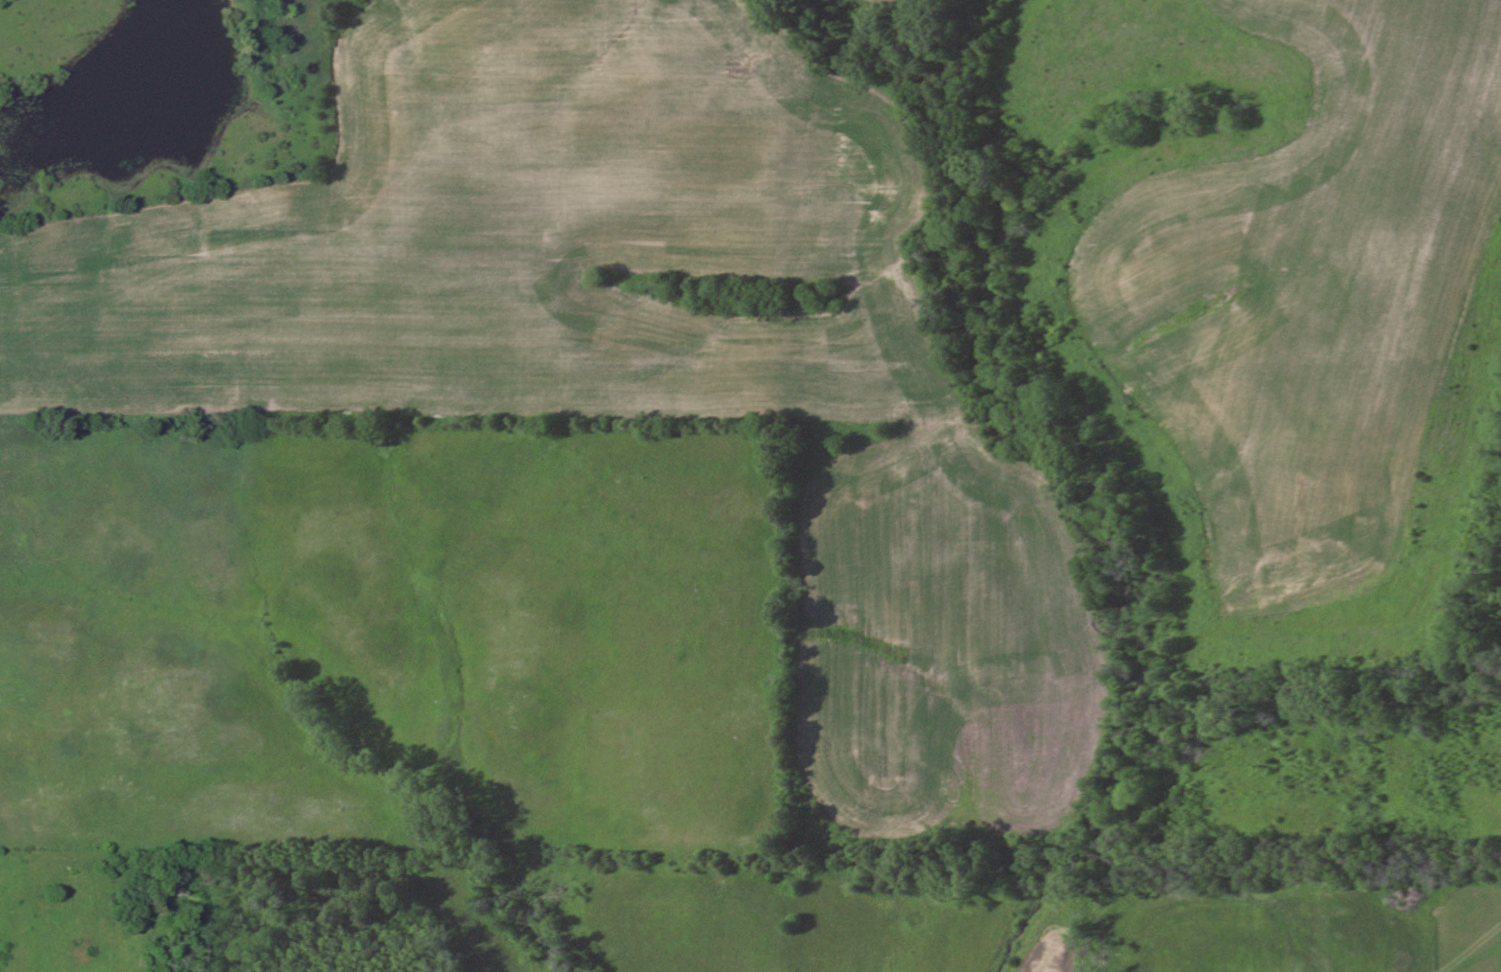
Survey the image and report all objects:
road: (1319, 810)
road: (1485, 960)

